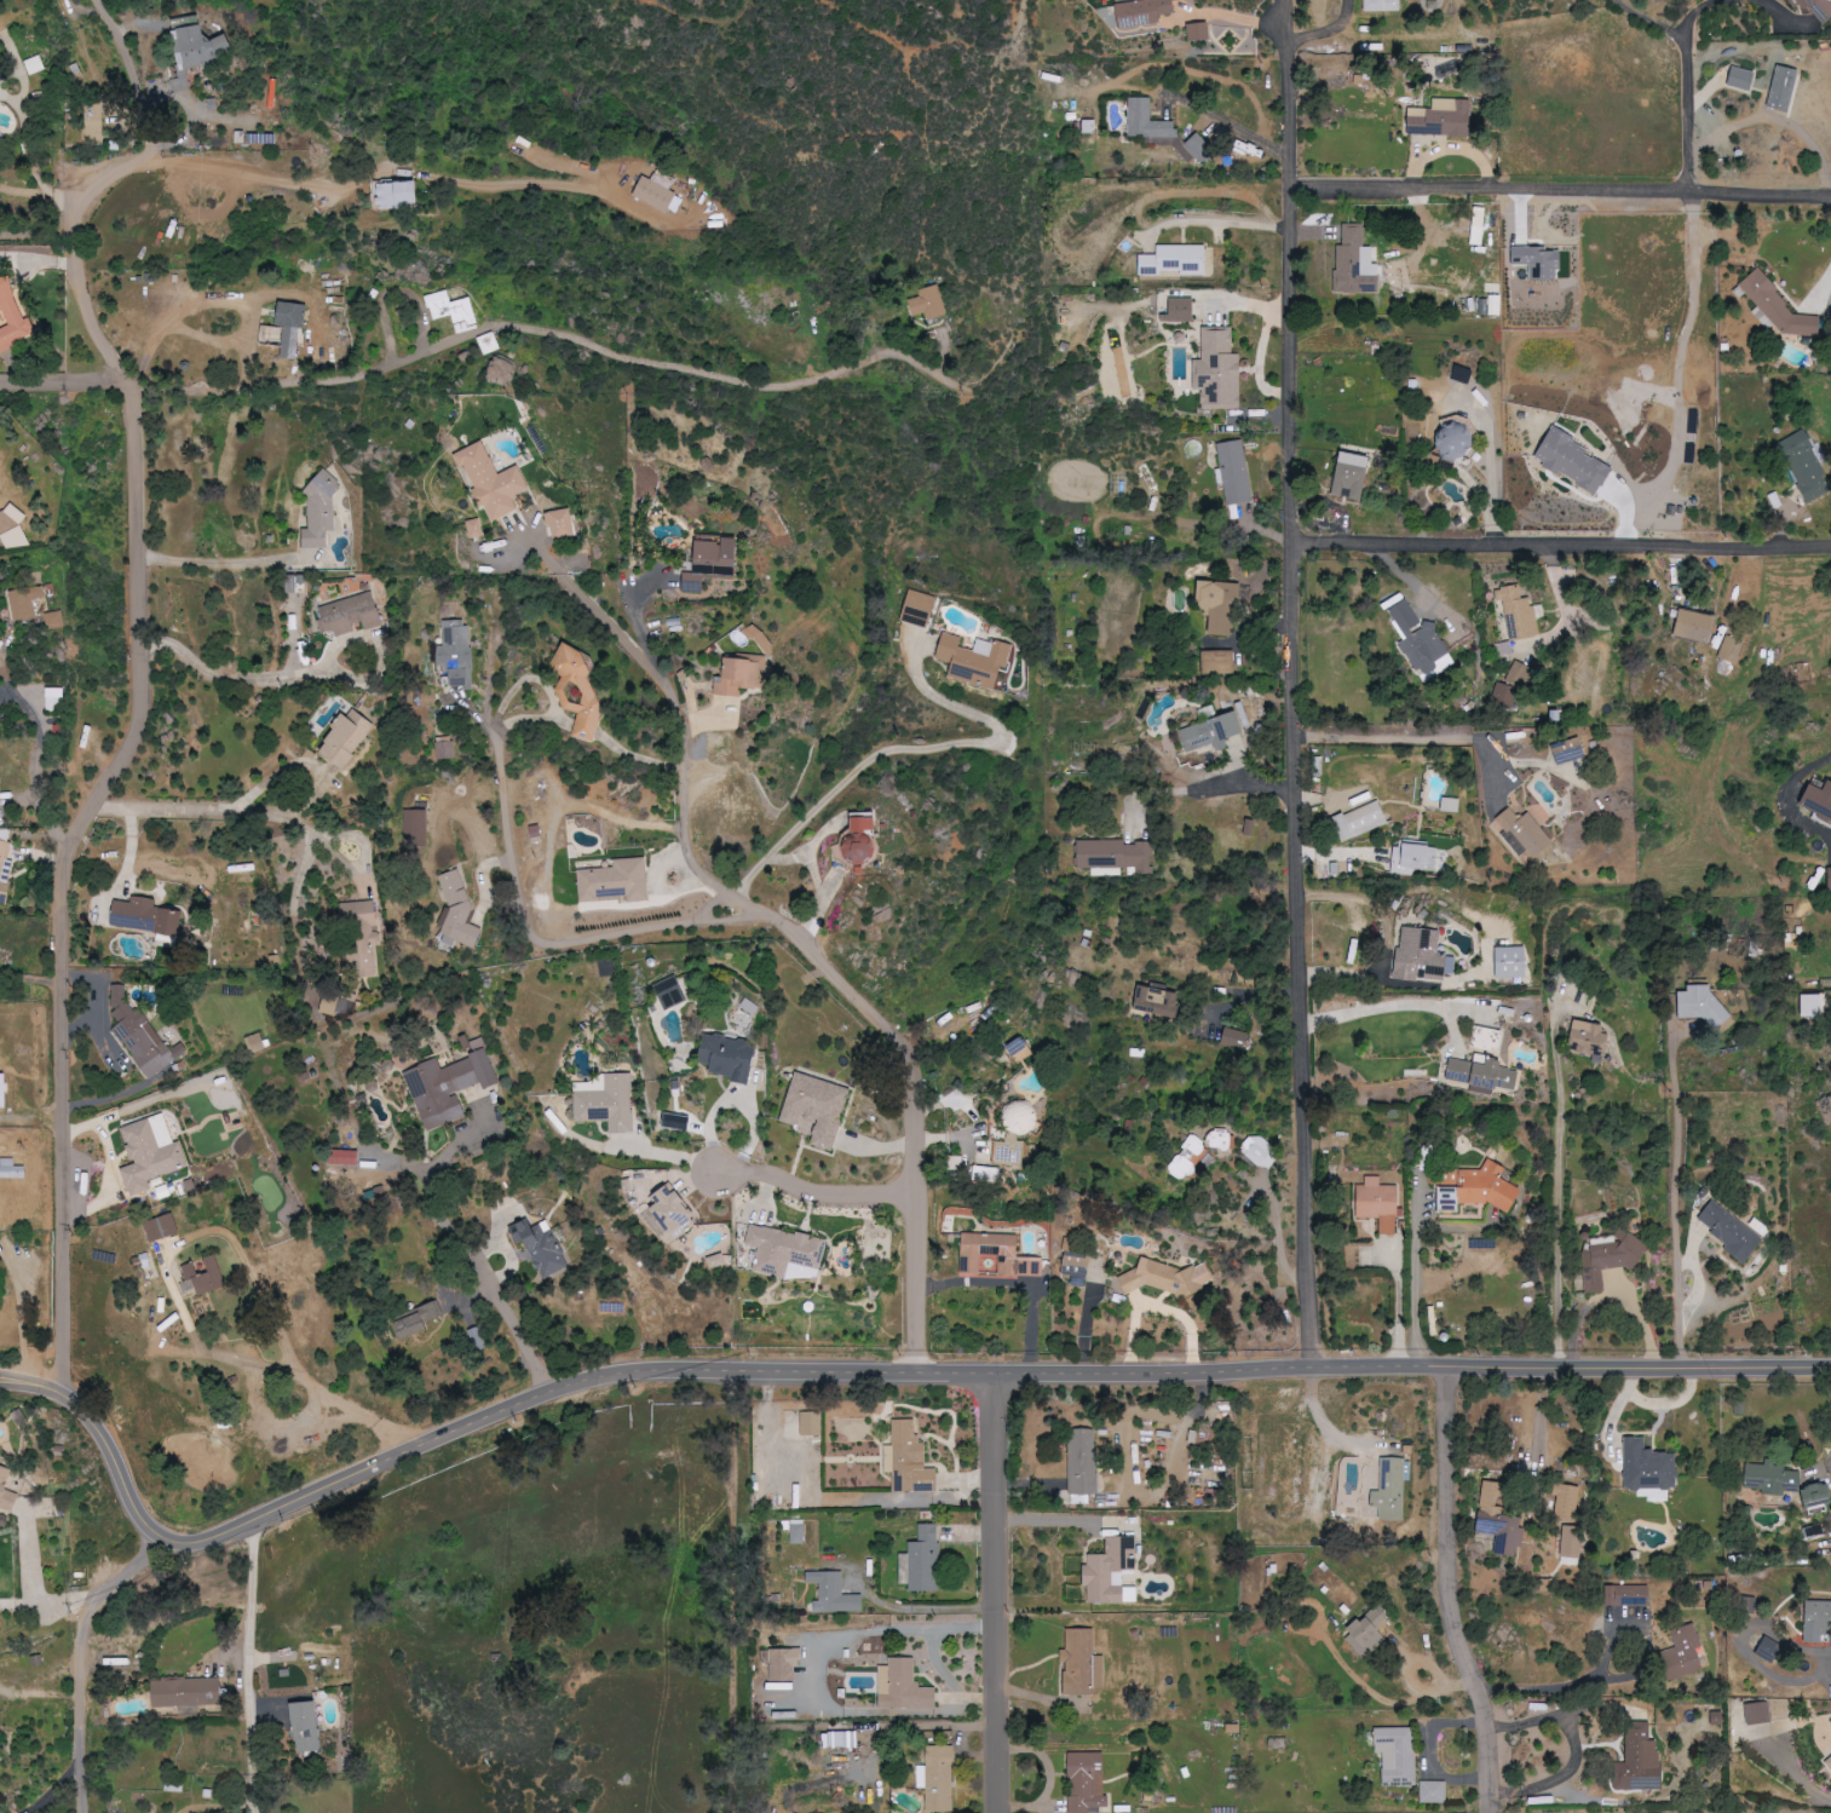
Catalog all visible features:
building: (1383, 5)
road: (1292, 7)
building: (1815, 10)
road: (1779, 11)
building: (1142, 12)
road: (1693, 12)
road: (1236, 17)
road: (1653, 18)
building: (1199, 31)
building: (197, 50)
building: (35, 64)
road: (133, 74)
building: (1738, 79)
building: (1780, 88)
road: (1688, 114)
road: (1778, 117)
building: (1443, 119)
building: (94, 121)
road: (1231, 125)
building: (1159, 129)
building: (1, 133)
road: (382, 168)
road: (1562, 188)
building: (398, 194)
building: (661, 195)
road: (1220, 221)
building: (1479, 225)
road: (39, 237)
building: (1176, 259)
building: (1357, 263)
road: (225, 297)
building: (928, 303)
building: (1774, 307)
building: (1182, 309)
building: (454, 310)
building: (15, 316)
road: (502, 324)
building: (292, 328)
building: (488, 343)
building: (1220, 370)
building: (1462, 374)
road: (1681, 374)
road: (62, 380)
building: (1453, 441)
building: (1806, 466)
building: (1234, 472)
building: (1353, 476)
building: (494, 479)
building: (1118, 484)
building: (8, 517)
building: (321, 517)
building: (563, 523)
building: (476, 528)
building: (15, 539)
road: (1564, 548)
building: (719, 554)
road: (225, 564)
building: (695, 582)
building: (27, 603)
building: (1220, 605)
building: (921, 609)
building: (1521, 612)
building: (351, 615)
building: (56, 621)
road: (641, 625)
road: (615, 626)
building: (1698, 626)
building: (1427, 641)
building: (1507, 649)
building: (1732, 650)
building: (457, 652)
building: (975, 660)
building: (1220, 662)
building: (742, 675)
road: (526, 679)
road: (240, 681)
building: (1515, 685)
building: (582, 690)
road: (1296, 691)
building: (56, 698)
building: (1214, 732)
building: (349, 737)
road: (1383, 739)
road: (909, 748)
building: (447, 750)
road: (1491, 750)
building: (1570, 750)
road: (41, 762)
road: (117, 777)
road: (1199, 788)
road: (1790, 796)
building: (1815, 800)
road: (207, 808)
building: (1360, 821)
building: (418, 825)
building: (1528, 833)
building: (864, 838)
building: (1116, 856)
building: (1413, 857)
building: (5, 865)
building: (1826, 879)
building: (617, 880)
building: (457, 913)
building: (359, 914)
building: (148, 916)
road: (530, 934)
building: (1422, 955)
building: (362, 957)
building: (1513, 962)
road: (33, 977)
building: (673, 992)
road: (1259, 994)
building: (1158, 1001)
building: (1698, 1002)
building: (1809, 1005)
building: (332, 1006)
road: (1400, 1006)
road: (870, 1014)
building: (143, 1036)
building: (1591, 1037)
building: (1236, 1038)
building: (257, 1042)
building: (1019, 1049)
building: (731, 1057)
building: (1484, 1072)
building: (449, 1086)
building: (608, 1101)
building: (818, 1107)
building: (678, 1122)
building: (1017, 1134)
building: (1221, 1139)
building: (1262, 1150)
building: (152, 1153)
road: (652, 1155)
building: (345, 1157)
building: (1190, 1158)
building: (12, 1169)
road: (814, 1190)
building: (1484, 1190)
road: (1676, 1198)
road: (1560, 1203)
building: (1380, 1204)
building: (675, 1211)
building: (162, 1228)
building: (1728, 1232)
building: (542, 1247)
building: (788, 1253)
building: (998, 1255)
building: (1607, 1259)
building: (719, 1261)
road: (482, 1265)
building: (1077, 1270)
building: (207, 1276)
building: (1168, 1278)
road: (1415, 1280)
road: (1611, 1291)
road: (29, 1319)
building: (420, 1320)
road: (854, 1371)
building: (812, 1423)
road: (1334, 1427)
building: (910, 1457)
building: (1083, 1462)
building: (1646, 1470)
building: (1780, 1484)
building: (1392, 1489)
building: (7, 1490)
building: (1564, 1503)
building: (799, 1531)
building: (1499, 1533)
building: (1567, 1542)
building: (1113, 1572)
road: (249, 1592)
road: (1000, 1592)
road: (1445, 1592)
road: (731, 1593)
building: (835, 1594)
building: (1624, 1595)
building: (1744, 1604)
road: (51, 1610)
building: (1815, 1619)
building: (1368, 1633)
building: (1680, 1653)
road: (80, 1657)
building: (1079, 1662)
building: (785, 1664)
building: (904, 1686)
road: (1562, 1688)
building: (186, 1692)
building: (1756, 1713)
building: (307, 1727)
building: (840, 1739)
building: (1398, 1754)
building: (1636, 1760)
building: (1827, 1762)
road: (1793, 1777)
building: (939, 1778)
building: (1088, 1783)
building: (1434, 1791)

